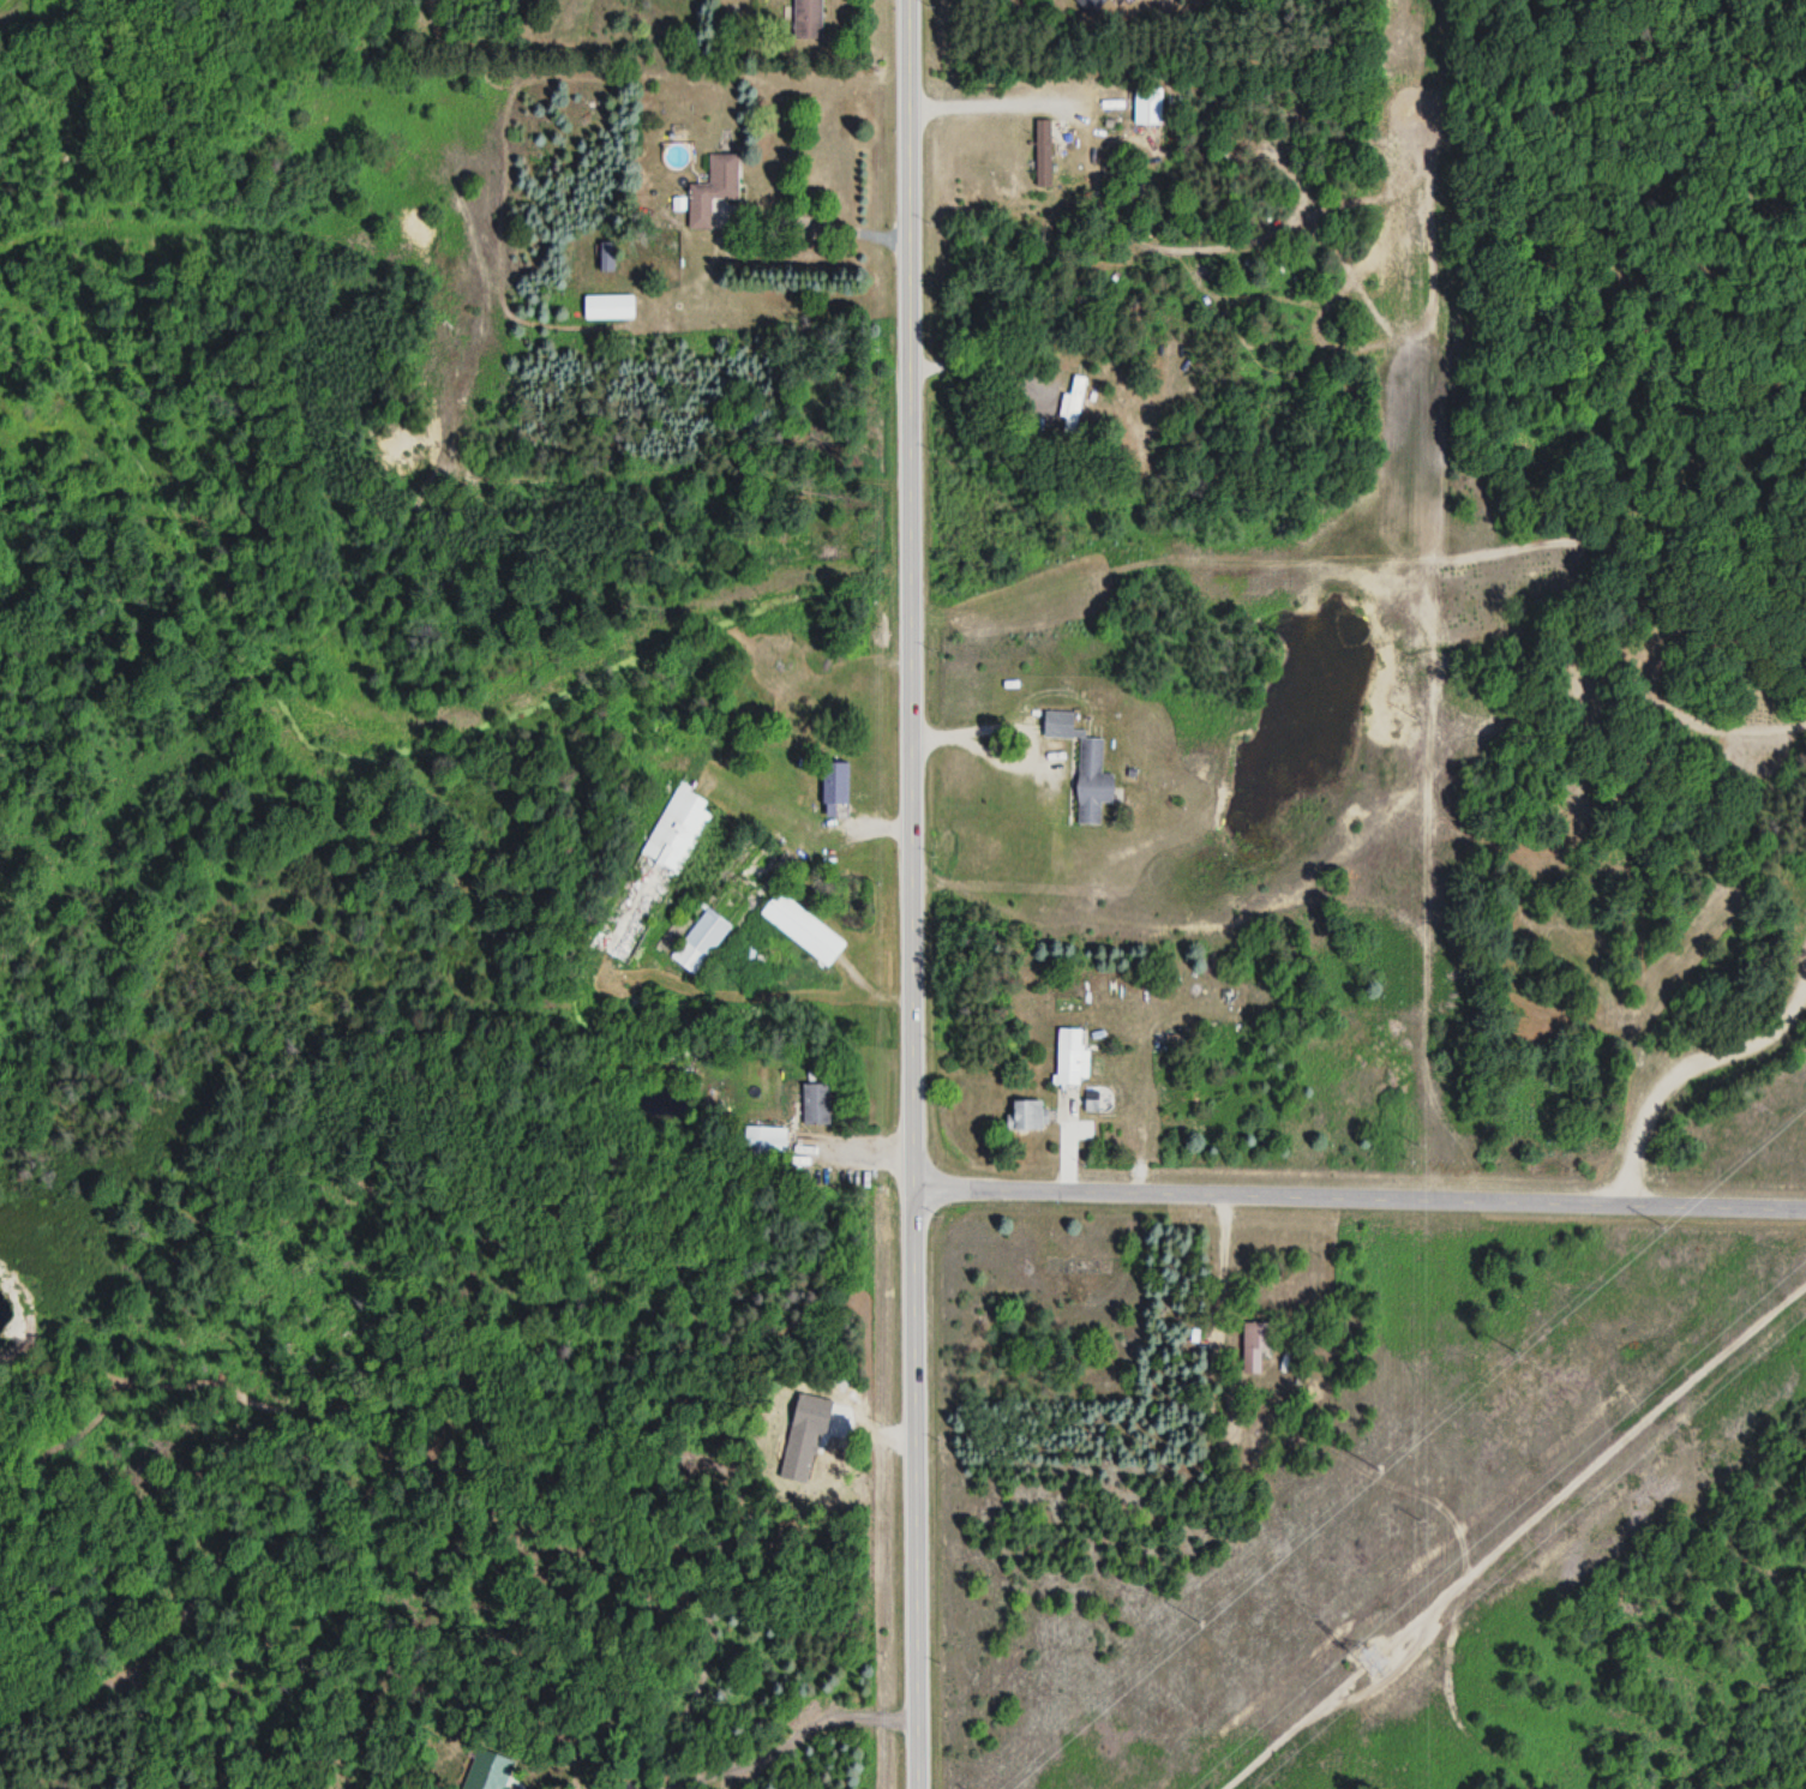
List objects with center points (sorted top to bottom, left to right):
building: (1091, 5)
building: (806, 20)
road: (1015, 106)
building: (1147, 107)
building: (1043, 154)
building: (713, 191)
building: (606, 257)
building: (608, 307)
building: (1073, 404)
building: (1092, 781)
building: (834, 784)
building: (652, 877)
road: (913, 894)
building: (802, 929)
building: (700, 942)
building: (1070, 1056)
road: (1685, 1070)
building: (816, 1104)
building: (1026, 1115)
building: (766, 1141)
road: (1067, 1141)
road: (1360, 1196)
building: (1254, 1346)
power tower: (1374, 1650)

